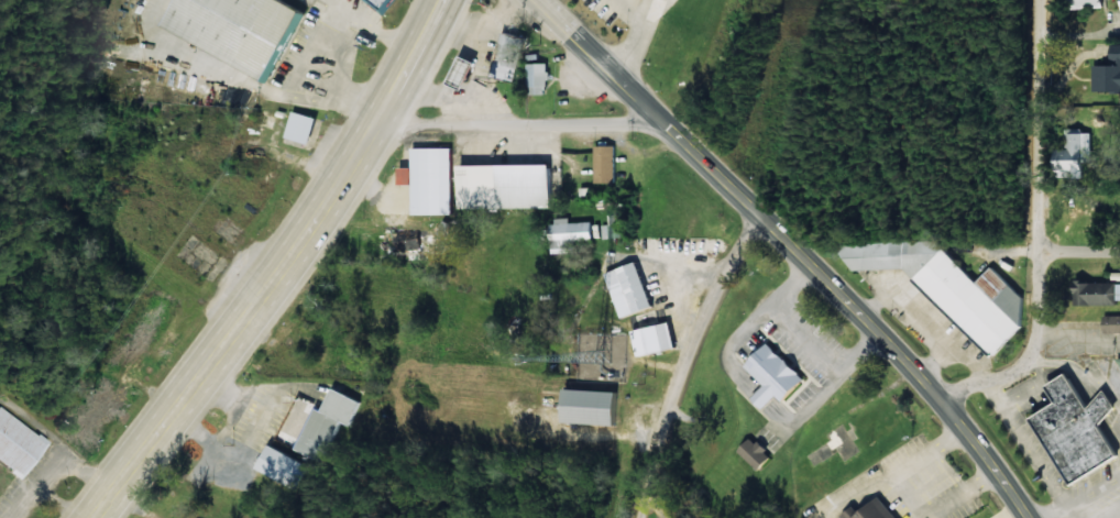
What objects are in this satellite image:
building: (1087, 2)
building: (385, 3)
building: (243, 29)
building: (510, 55)
building: (466, 71)
building: (1109, 73)
building: (539, 78)
building: (304, 126)
building: (1075, 155)
building: (606, 163)
building: (431, 179)
building: (507, 185)
building: (613, 227)
road: (1039, 229)
building: (571, 233)
road: (305, 236)
building: (417, 243)
road: (791, 249)
road: (1079, 257)
building: (951, 286)
building: (630, 289)
building: (1098, 293)
building: (1112, 323)
building: (652, 333)
road: (685, 362)
building: (776, 375)
road: (1077, 378)
building: (594, 406)
building: (328, 422)
building: (1079, 428)
building: (18, 443)
building: (757, 453)
road: (689, 463)
building: (286, 466)
road: (934, 476)
road: (117, 486)
building: (871, 509)
road: (1117, 516)

